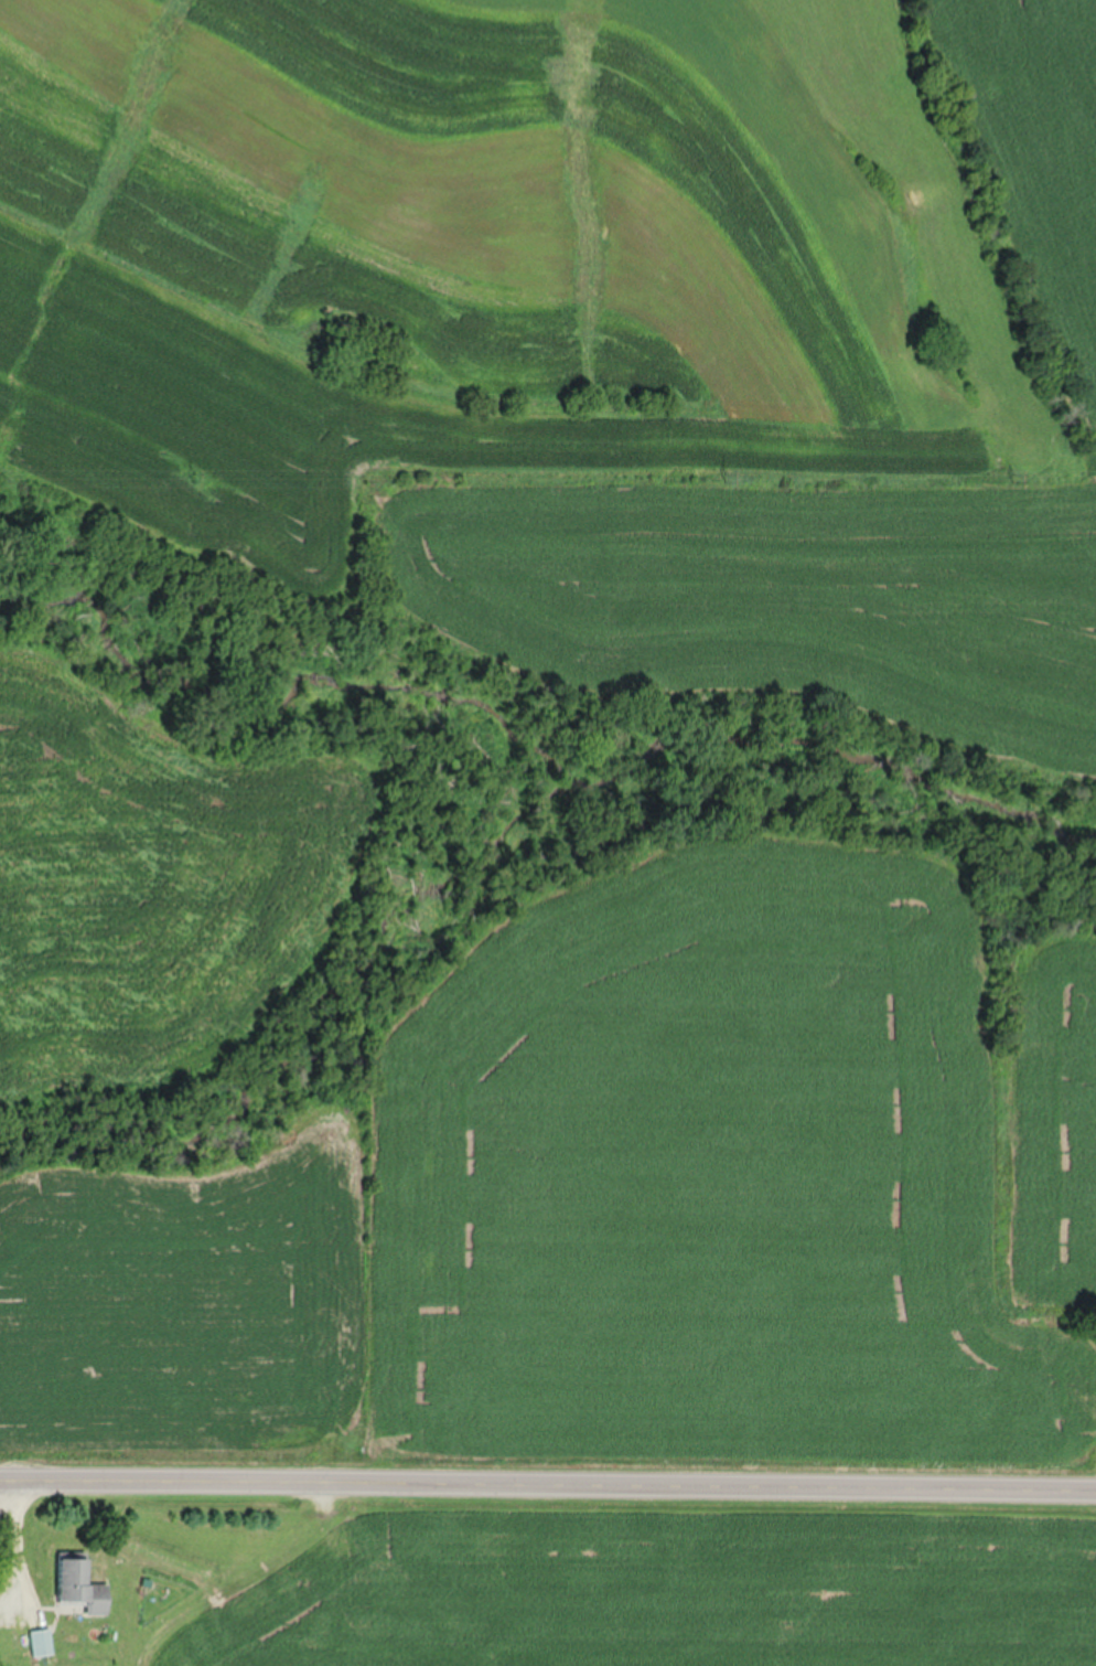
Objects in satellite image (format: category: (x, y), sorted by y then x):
road: (548, 1483)
road: (2, 1526)
building: (78, 1585)
building: (39, 1641)

